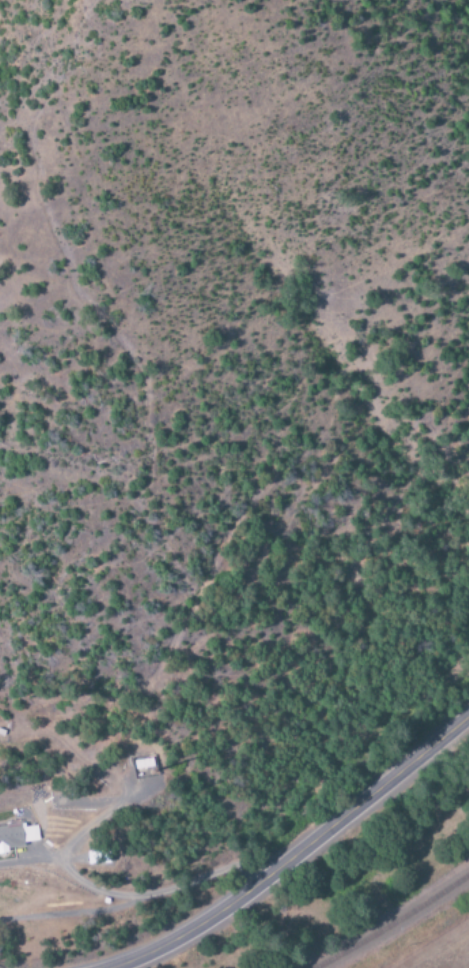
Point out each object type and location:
building: (18, 837)
road: (296, 851)
road: (99, 891)
railway: (405, 927)

